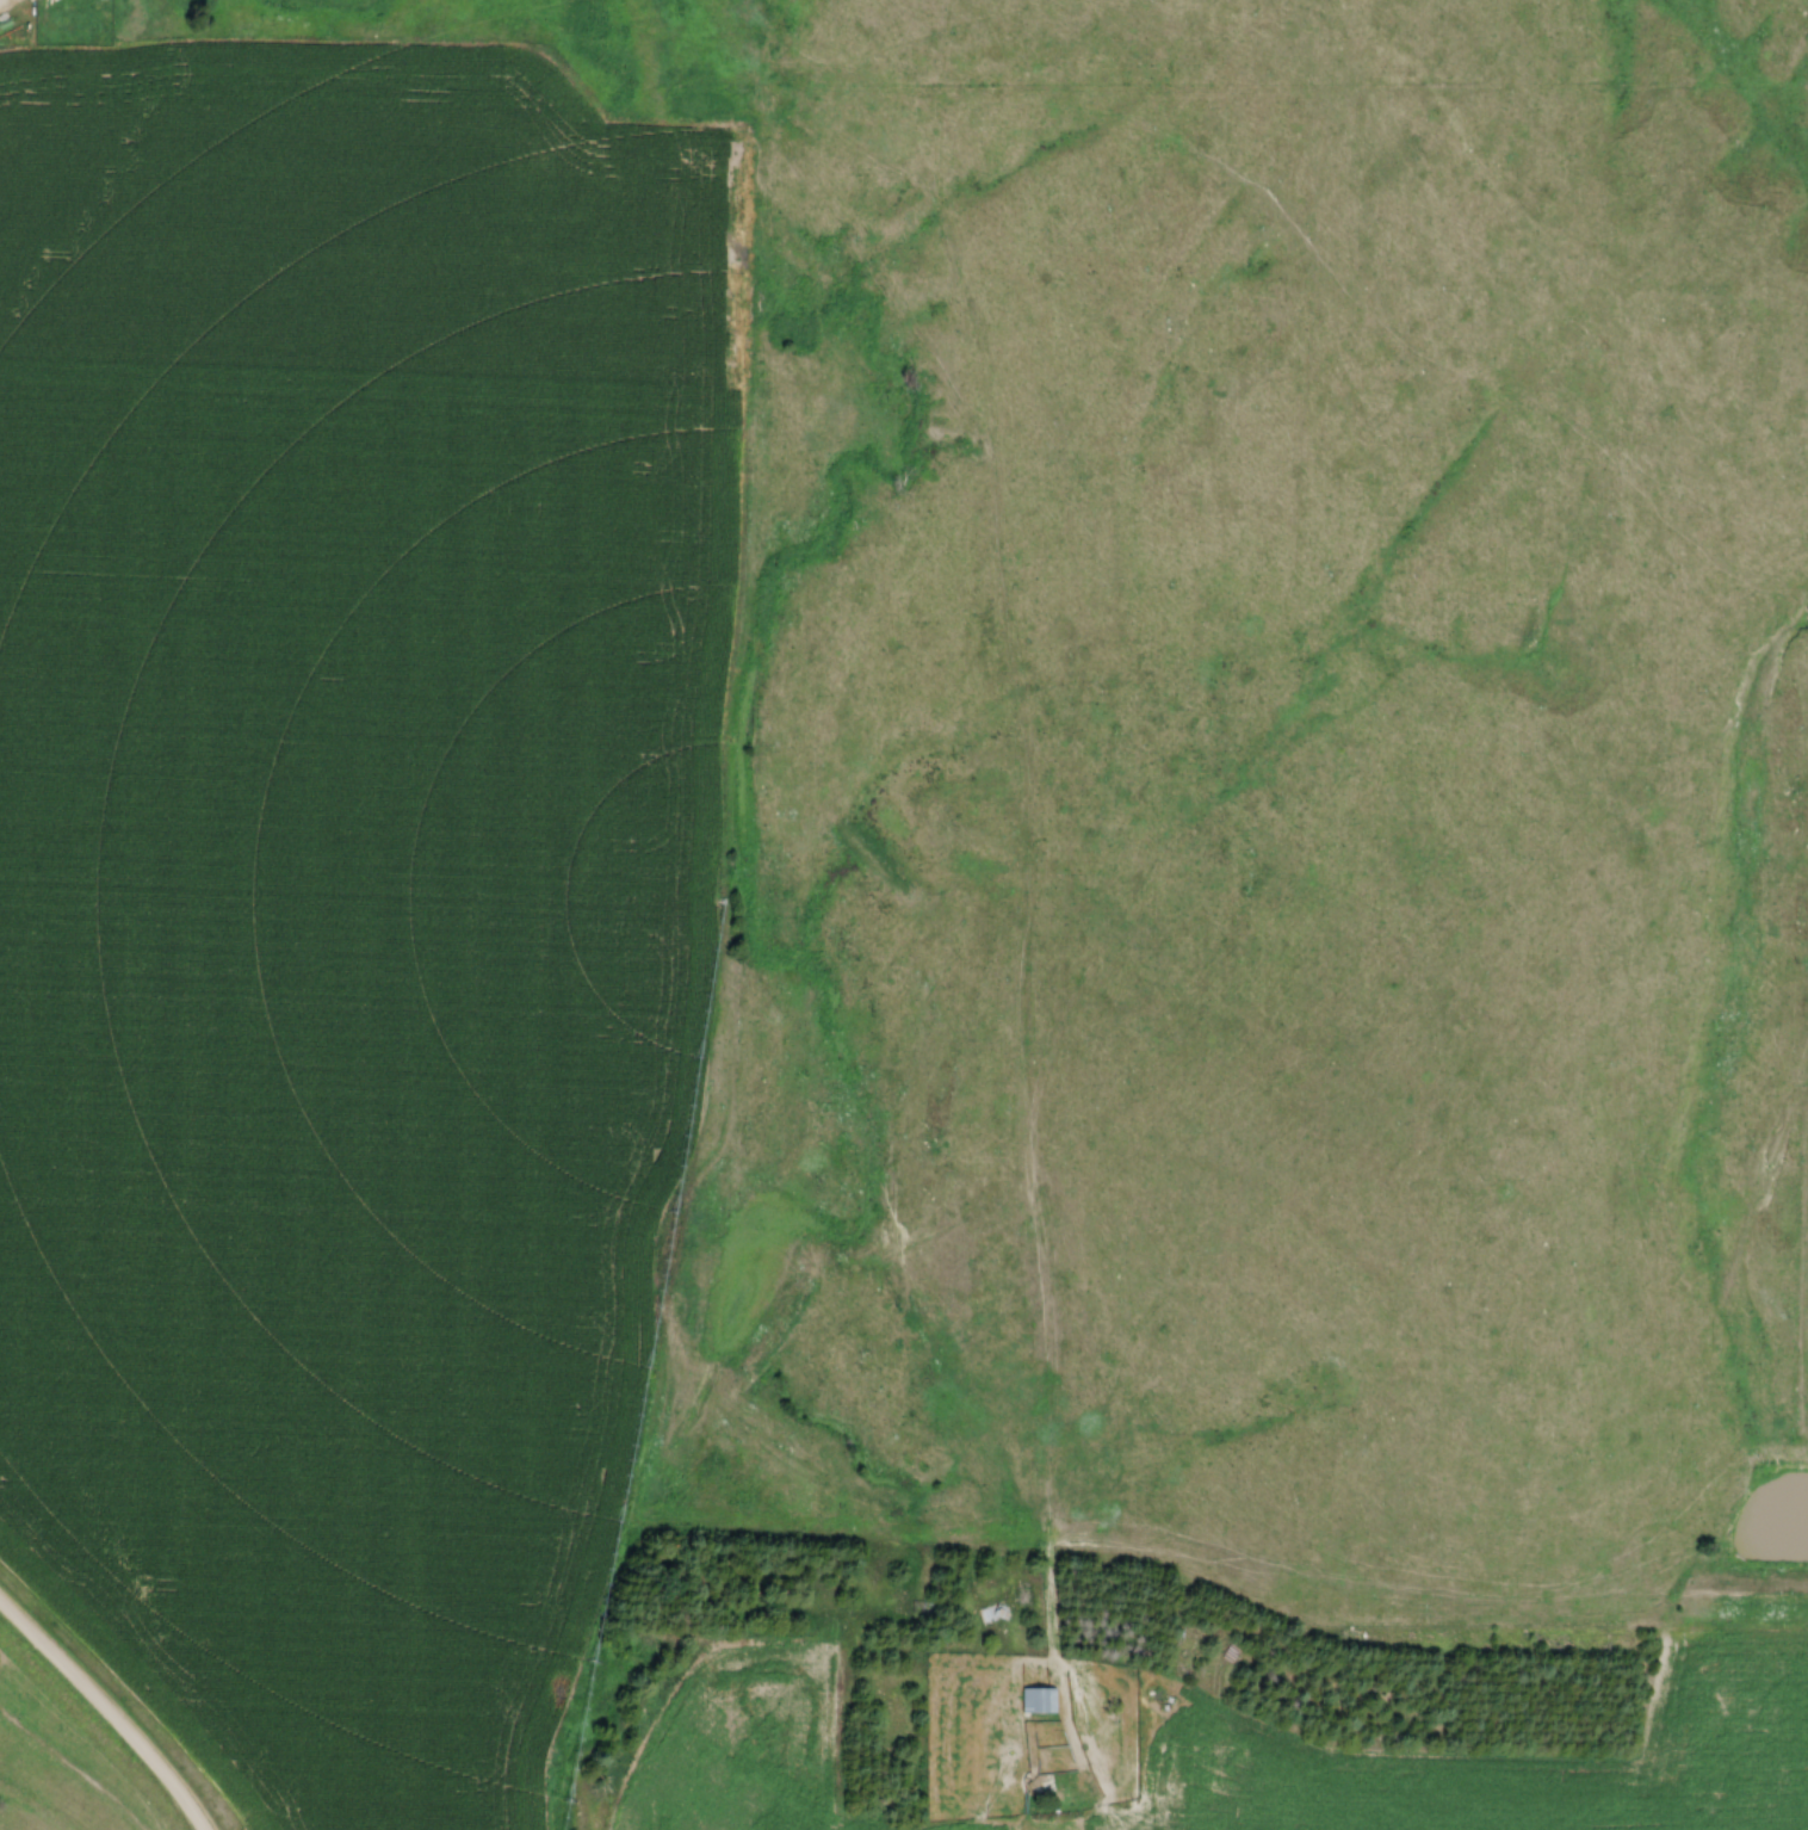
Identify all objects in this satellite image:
building: (1038, 1700)
road: (109, 1710)
road: (1085, 1752)

